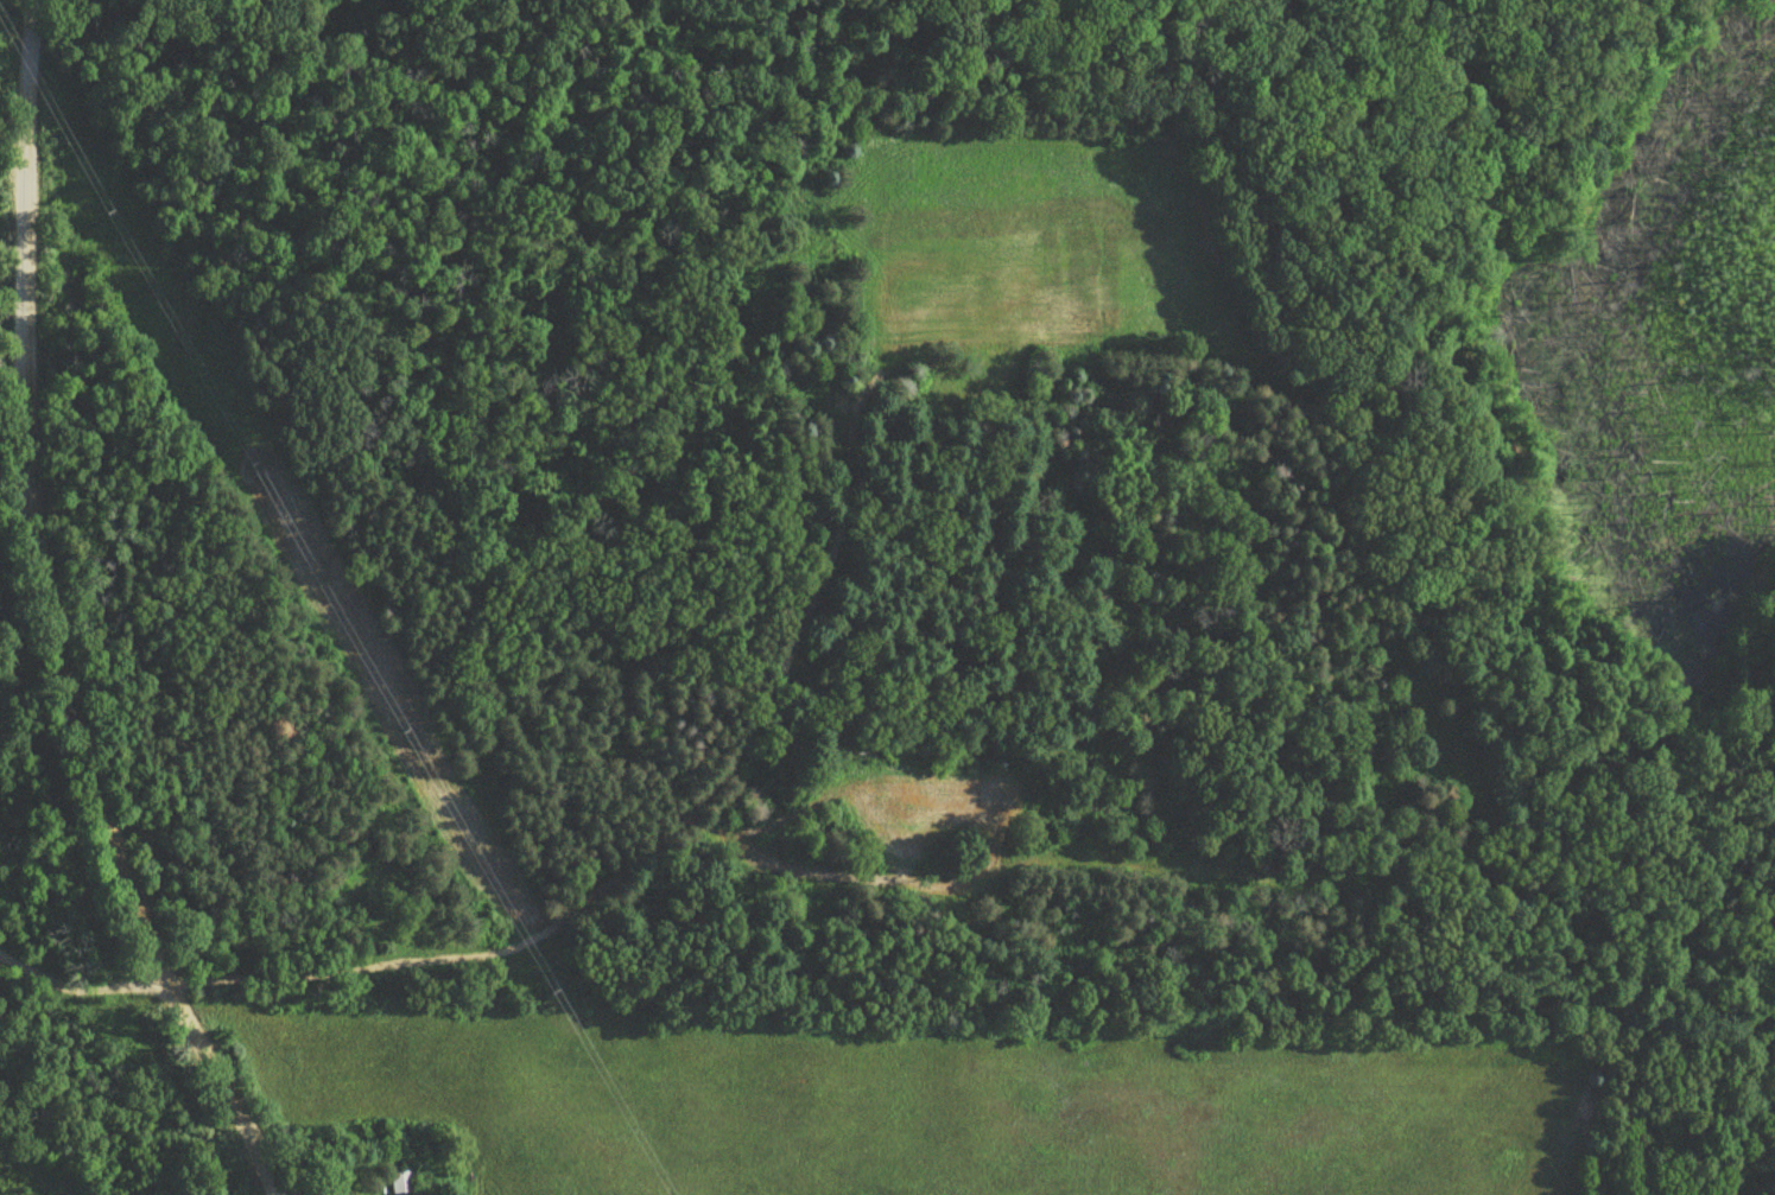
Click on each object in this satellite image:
road: (14, 170)
road: (55, 618)
road: (642, 852)
road: (80, 987)
building: (402, 1182)

